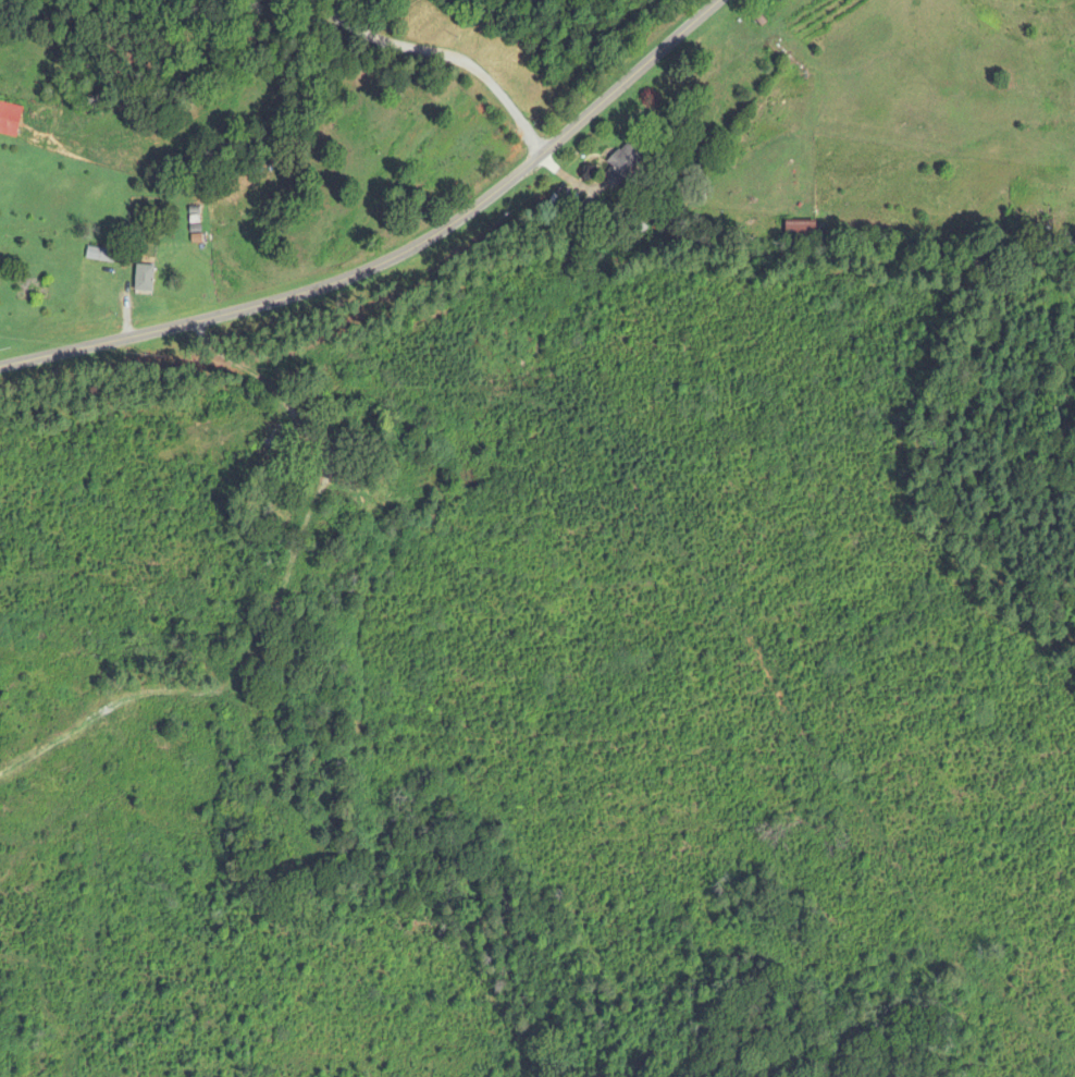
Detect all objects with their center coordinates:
road: (449, 54)
building: (24, 122)
building: (800, 231)
road: (396, 255)
building: (143, 278)
building: (274, 516)
building: (328, 576)

